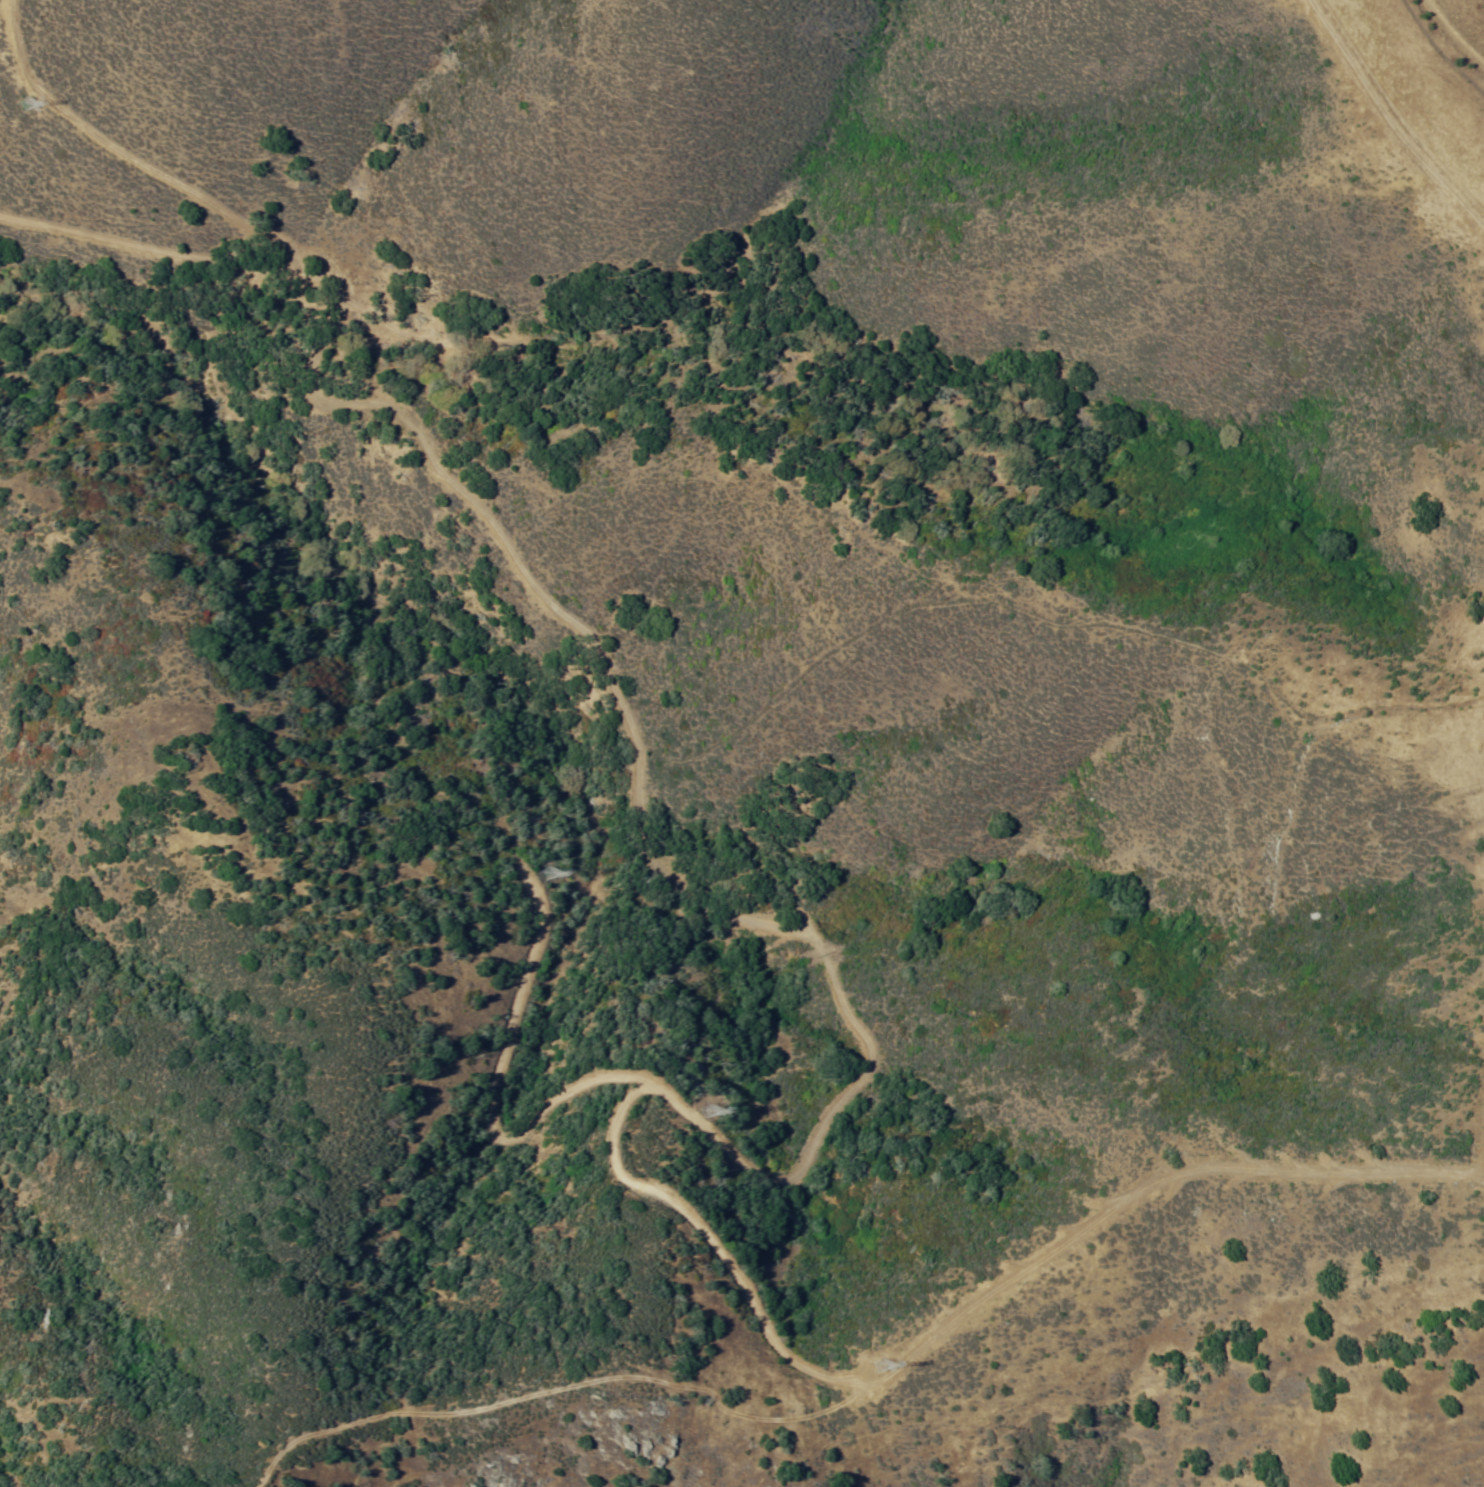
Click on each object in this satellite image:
road: (1450, 49)
road: (884, 1362)

